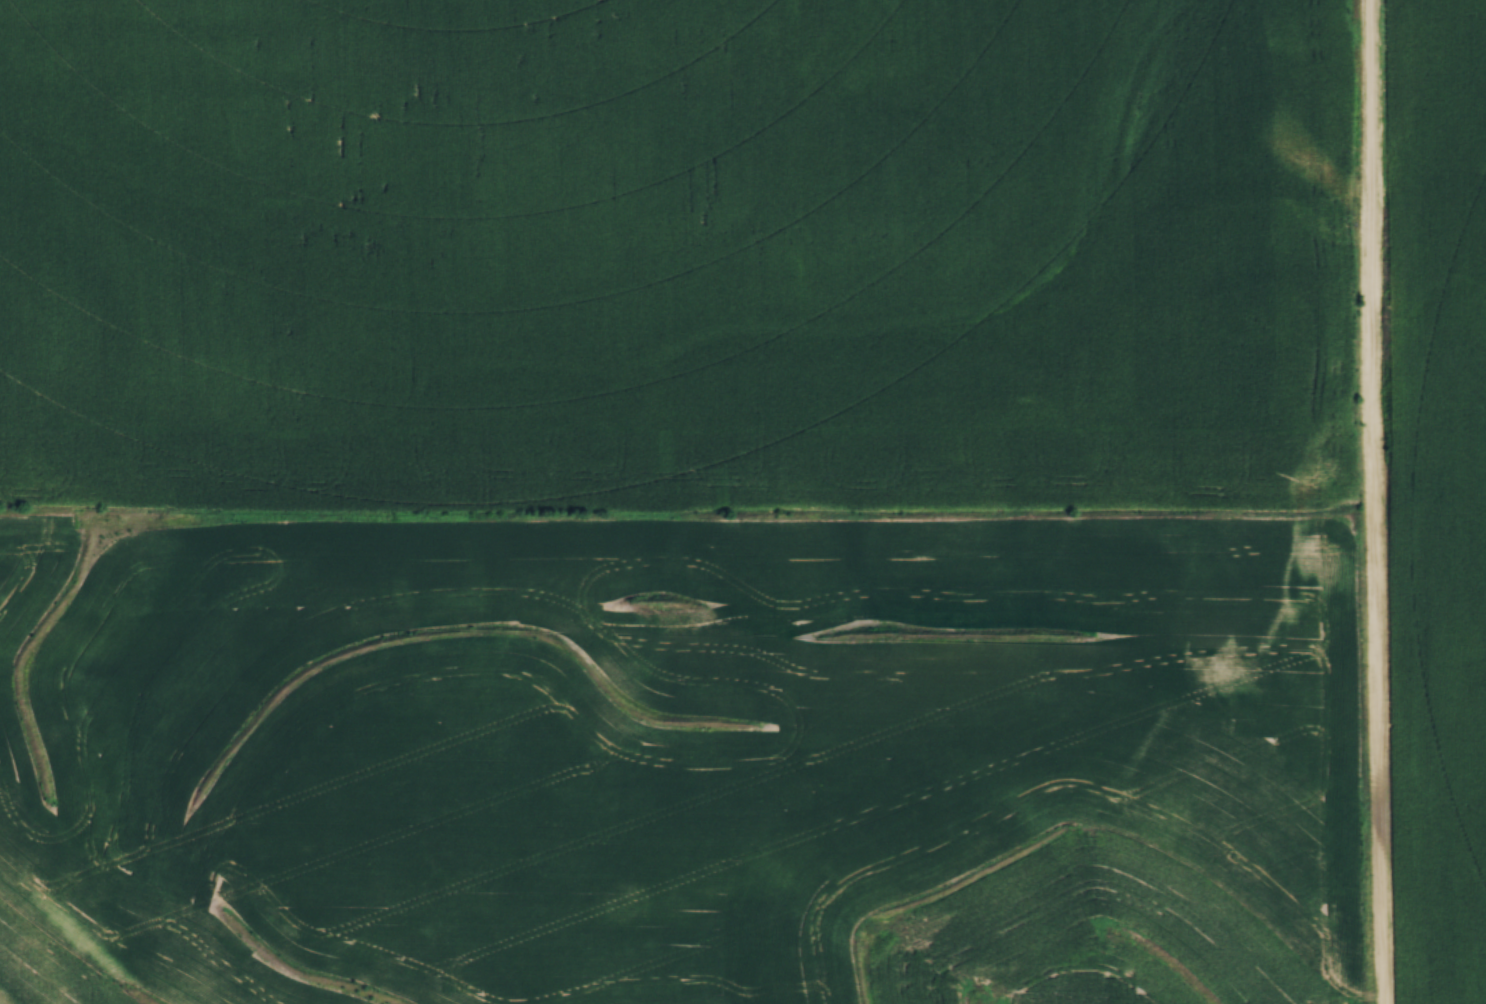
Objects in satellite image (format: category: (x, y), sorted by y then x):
road: (1376, 502)

